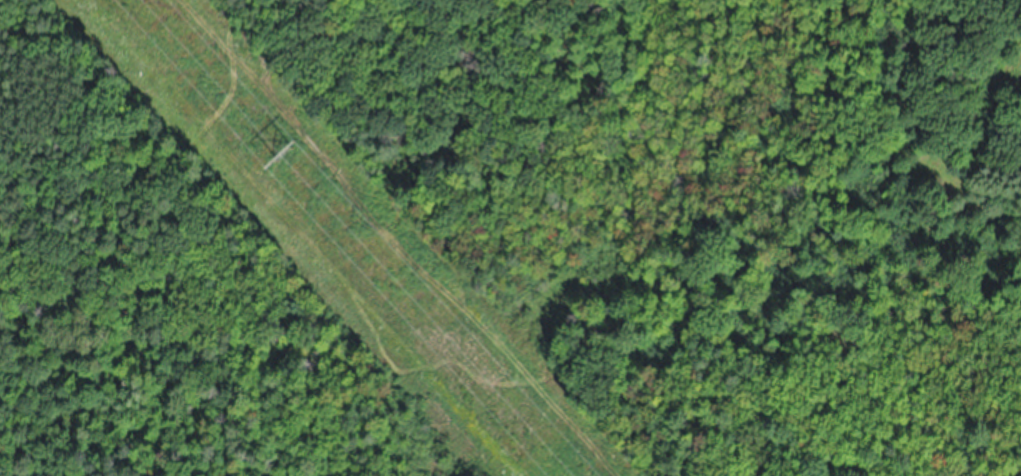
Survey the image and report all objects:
power tower: (282, 149)

